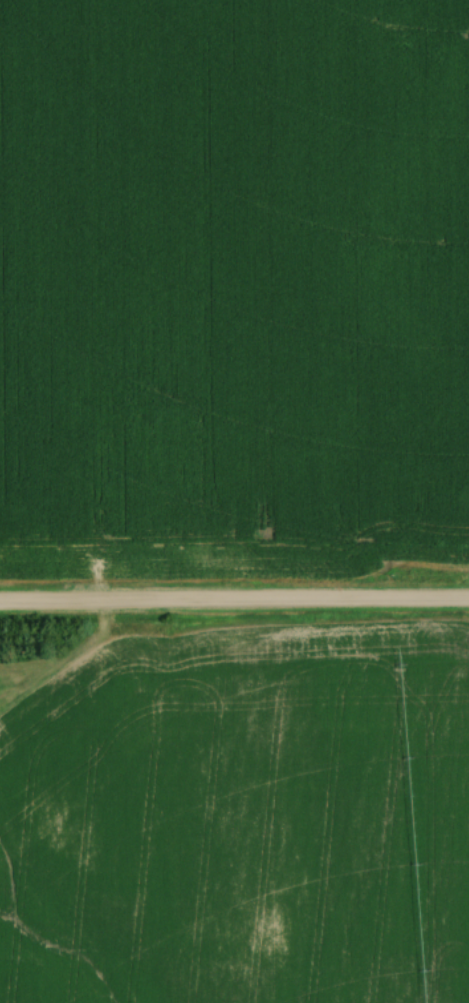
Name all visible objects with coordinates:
road: (234, 598)

